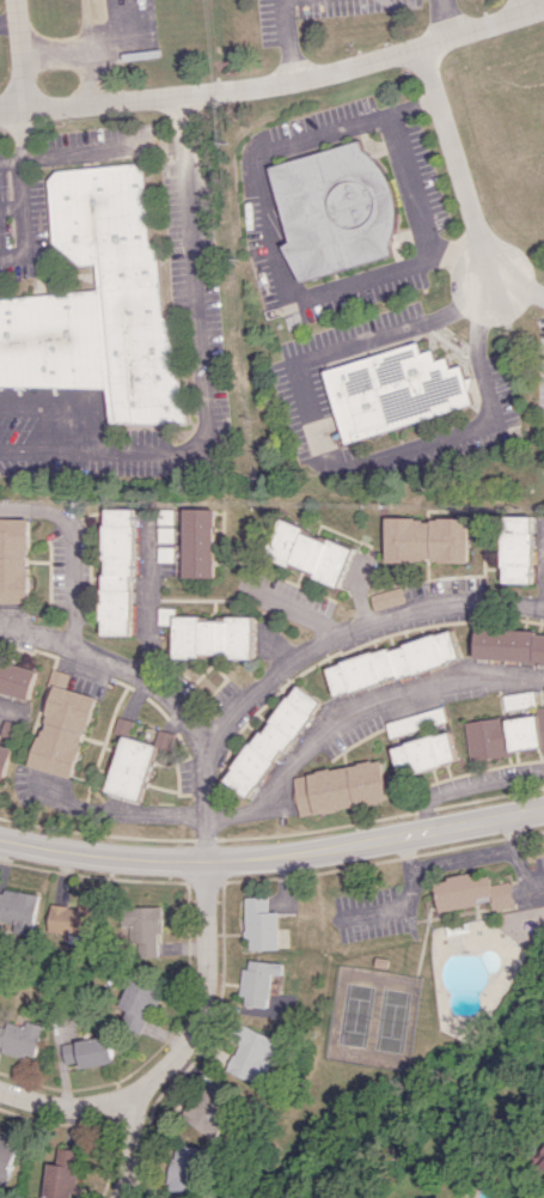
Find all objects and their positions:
road: (520, 7)
road: (444, 19)
road: (10, 23)
road: (285, 42)
road: (22, 55)
road: (276, 85)
road: (281, 141)
road: (90, 147)
road: (458, 170)
road: (20, 193)
building: (332, 208)
road: (519, 293)
building: (102, 302)
road: (206, 370)
building: (396, 390)
road: (320, 454)
building: (426, 540)
building: (196, 542)
building: (517, 548)
road: (72, 549)
building: (307, 552)
building: (13, 560)
building: (116, 571)
building: (385, 597)
road: (289, 609)
road: (353, 633)
building: (207, 636)
building: (508, 645)
building: (392, 662)
building: (16, 680)
road: (159, 698)
building: (518, 699)
road: (350, 710)
road: (6, 711)
building: (414, 722)
building: (61, 726)
building: (503, 735)
building: (161, 738)
building: (270, 740)
building: (423, 753)
building: (4, 759)
building: (129, 762)
road: (470, 786)
building: (338, 787)
road: (118, 815)
road: (509, 833)
road: (273, 851)
road: (407, 852)
road: (436, 865)
building: (471, 892)
building: (19, 910)
building: (74, 918)
building: (261, 923)
building: (258, 981)
road: (204, 986)
building: (139, 1001)
building: (19, 1038)
building: (87, 1051)
building: (253, 1053)
road: (71, 1103)
building: (210, 1107)
road: (126, 1143)
building: (5, 1159)
building: (540, 1162)
building: (187, 1168)
building: (61, 1174)

